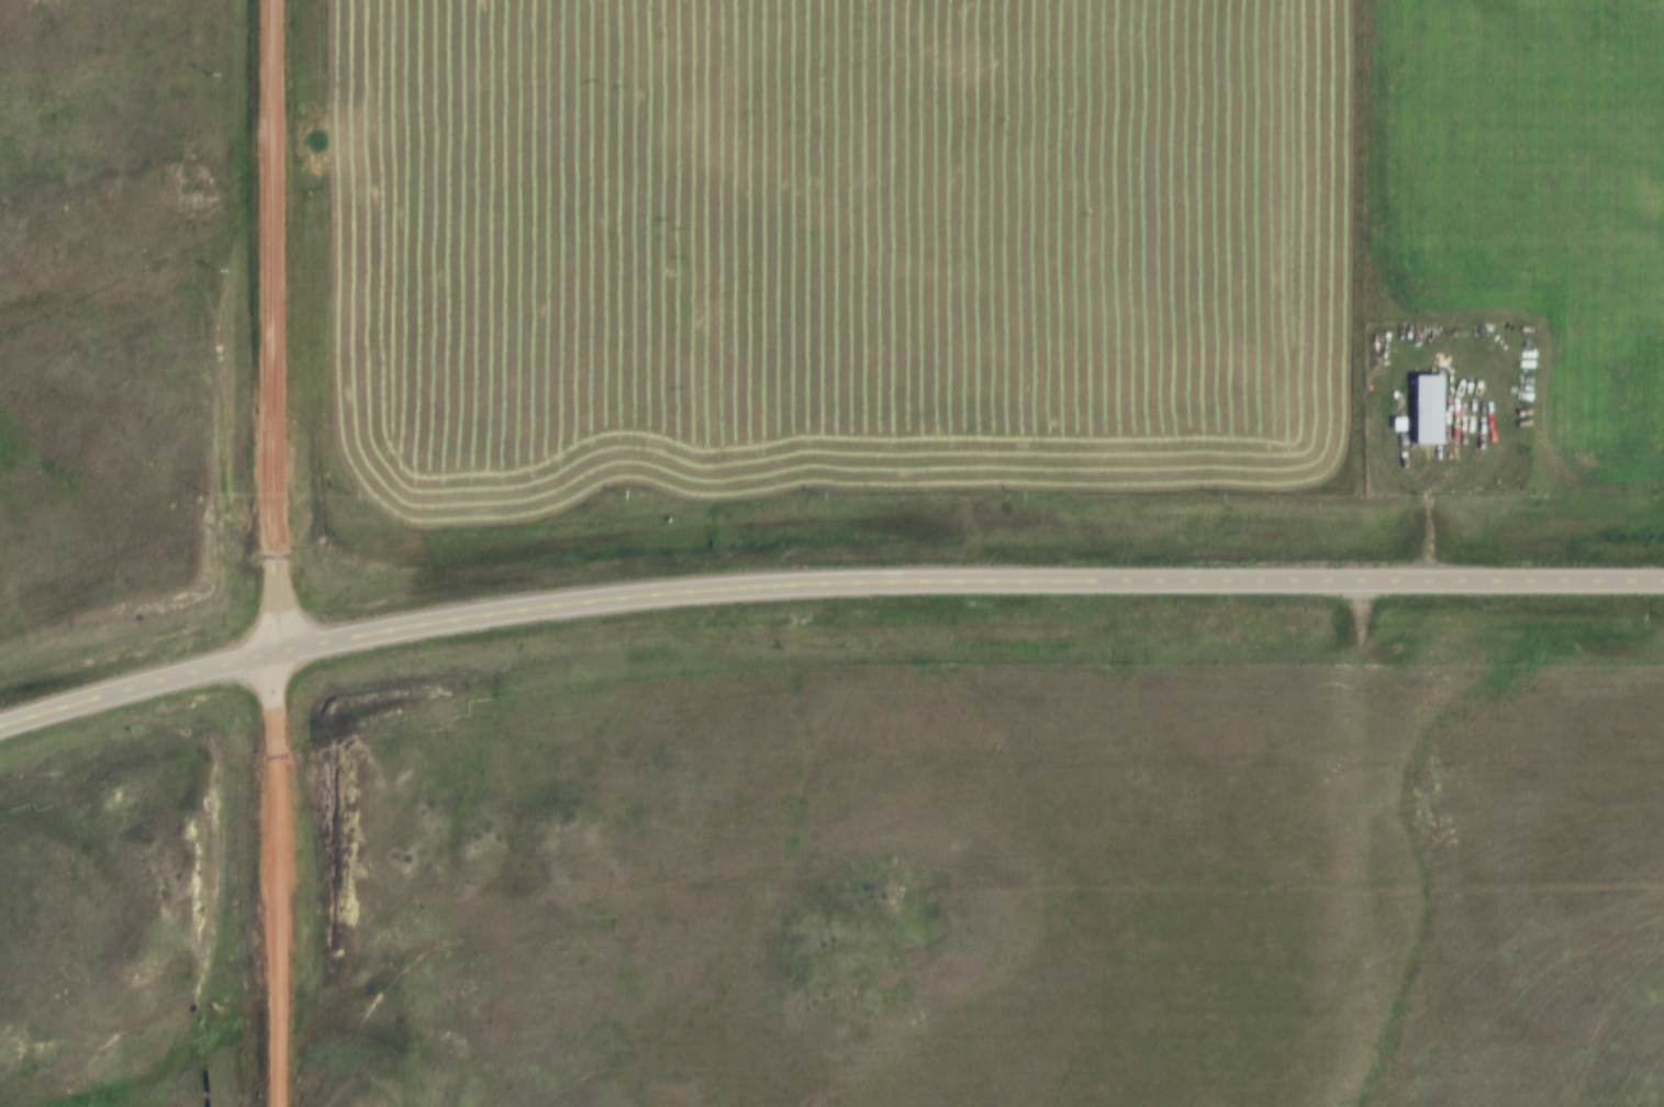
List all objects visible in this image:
road: (275, 327)
building: (1428, 411)
road: (1453, 467)
road: (825, 593)
road: (276, 881)

